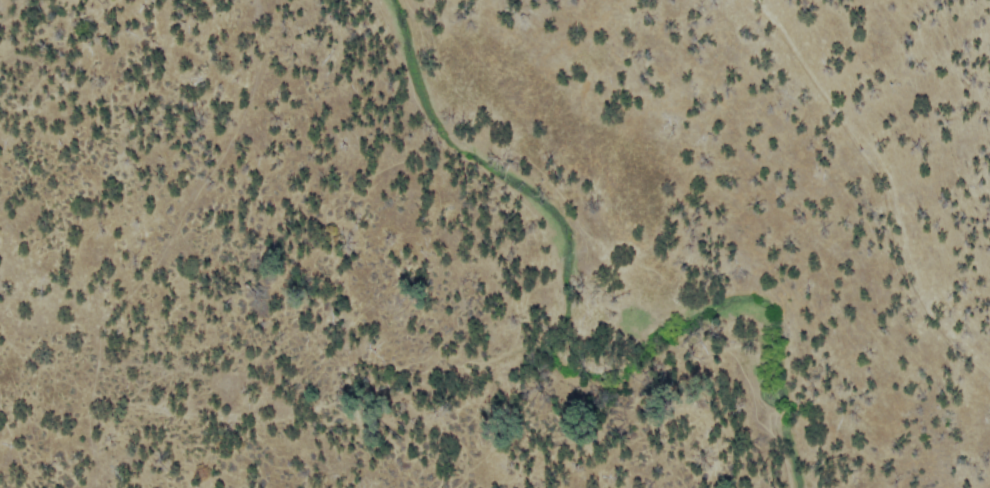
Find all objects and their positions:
park: (896, 483)

